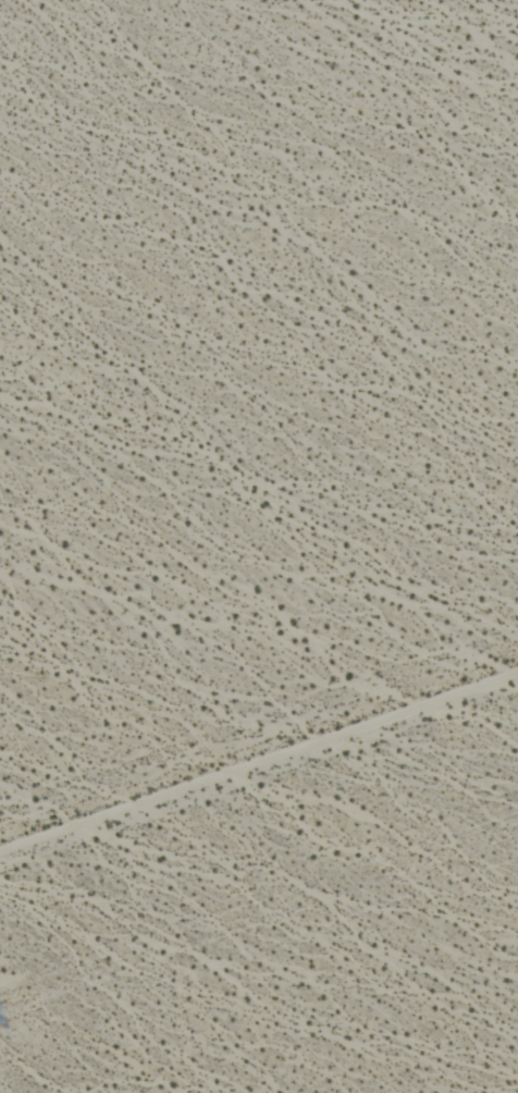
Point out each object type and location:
road: (258, 732)

